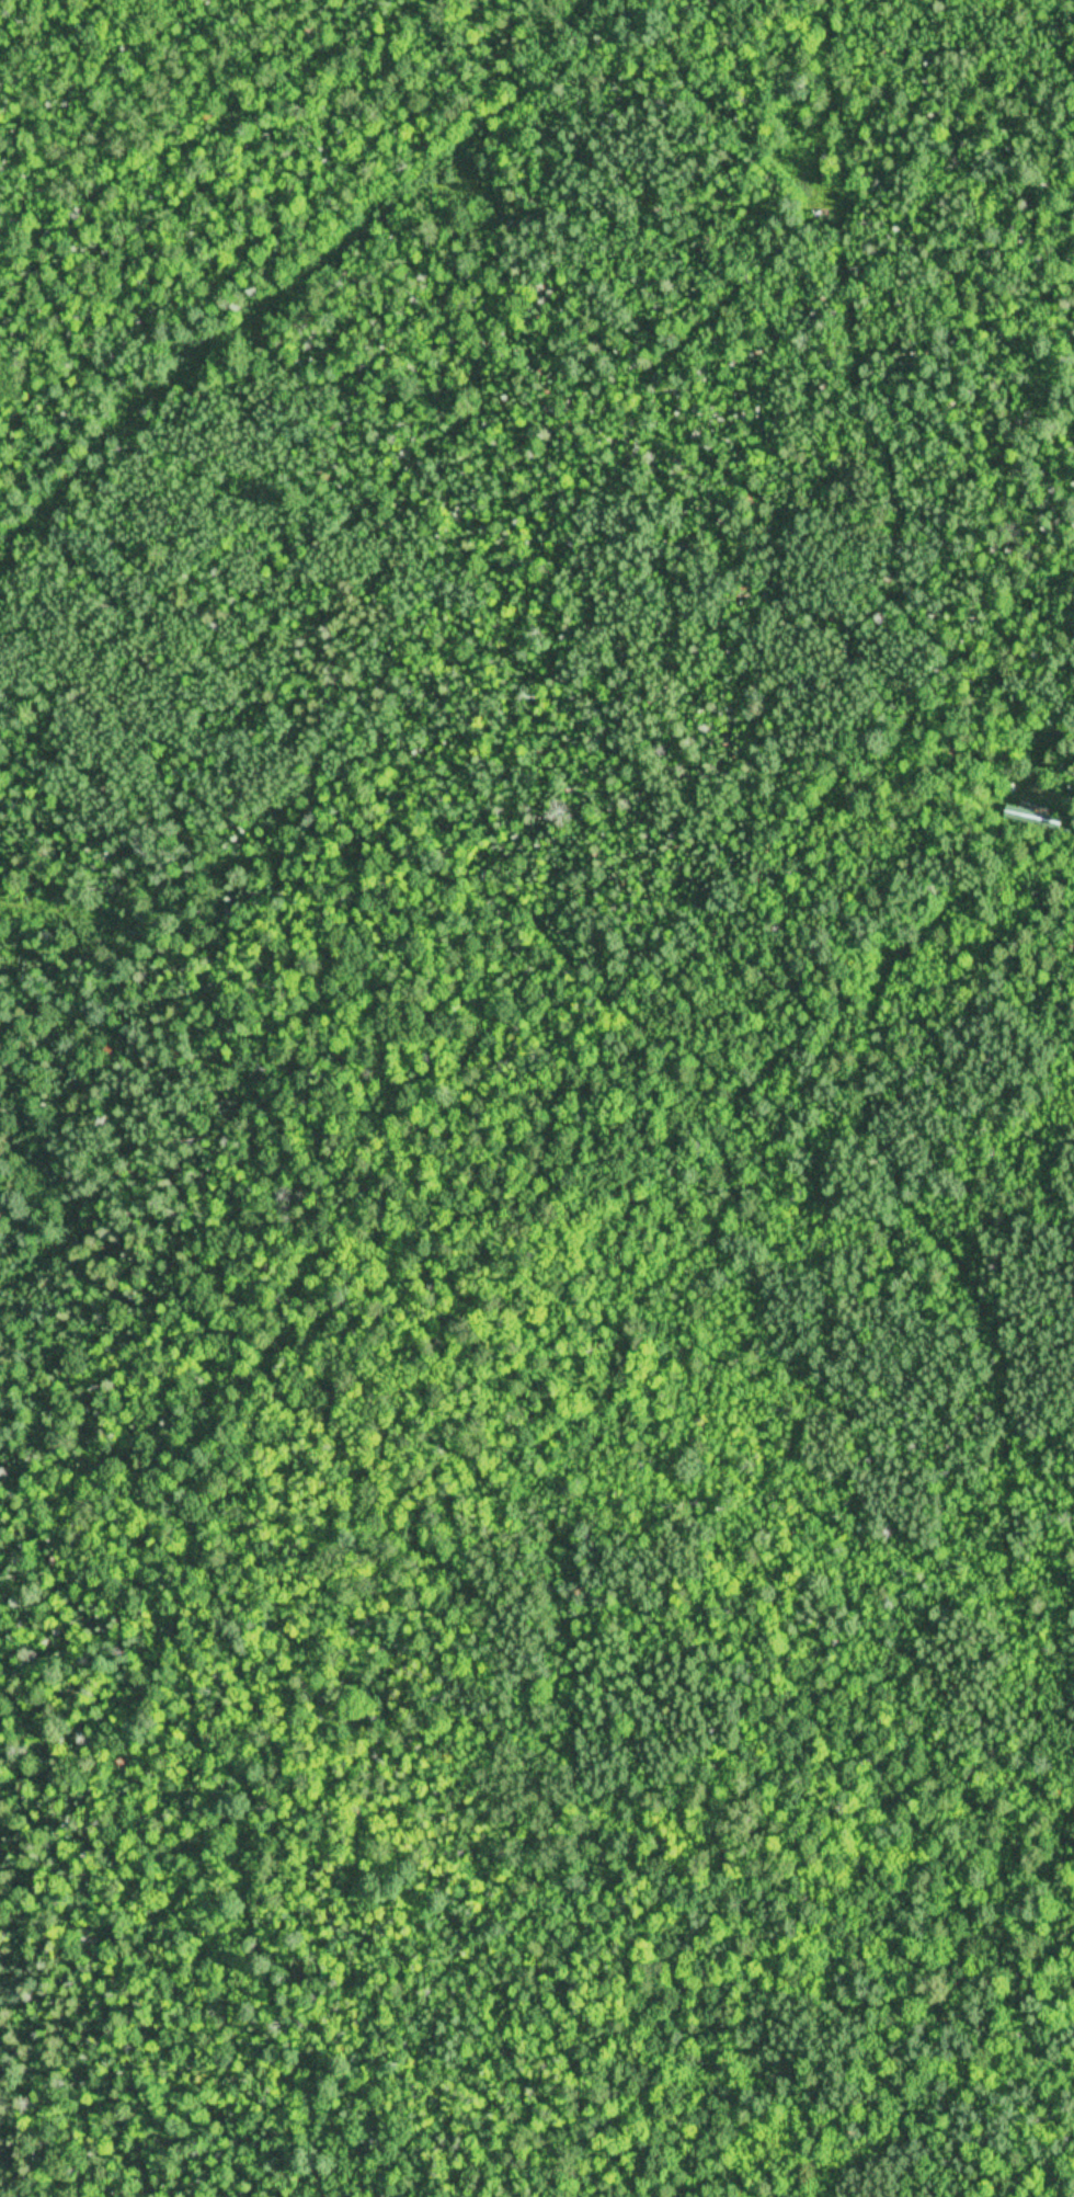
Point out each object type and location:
road: (208, 356)

